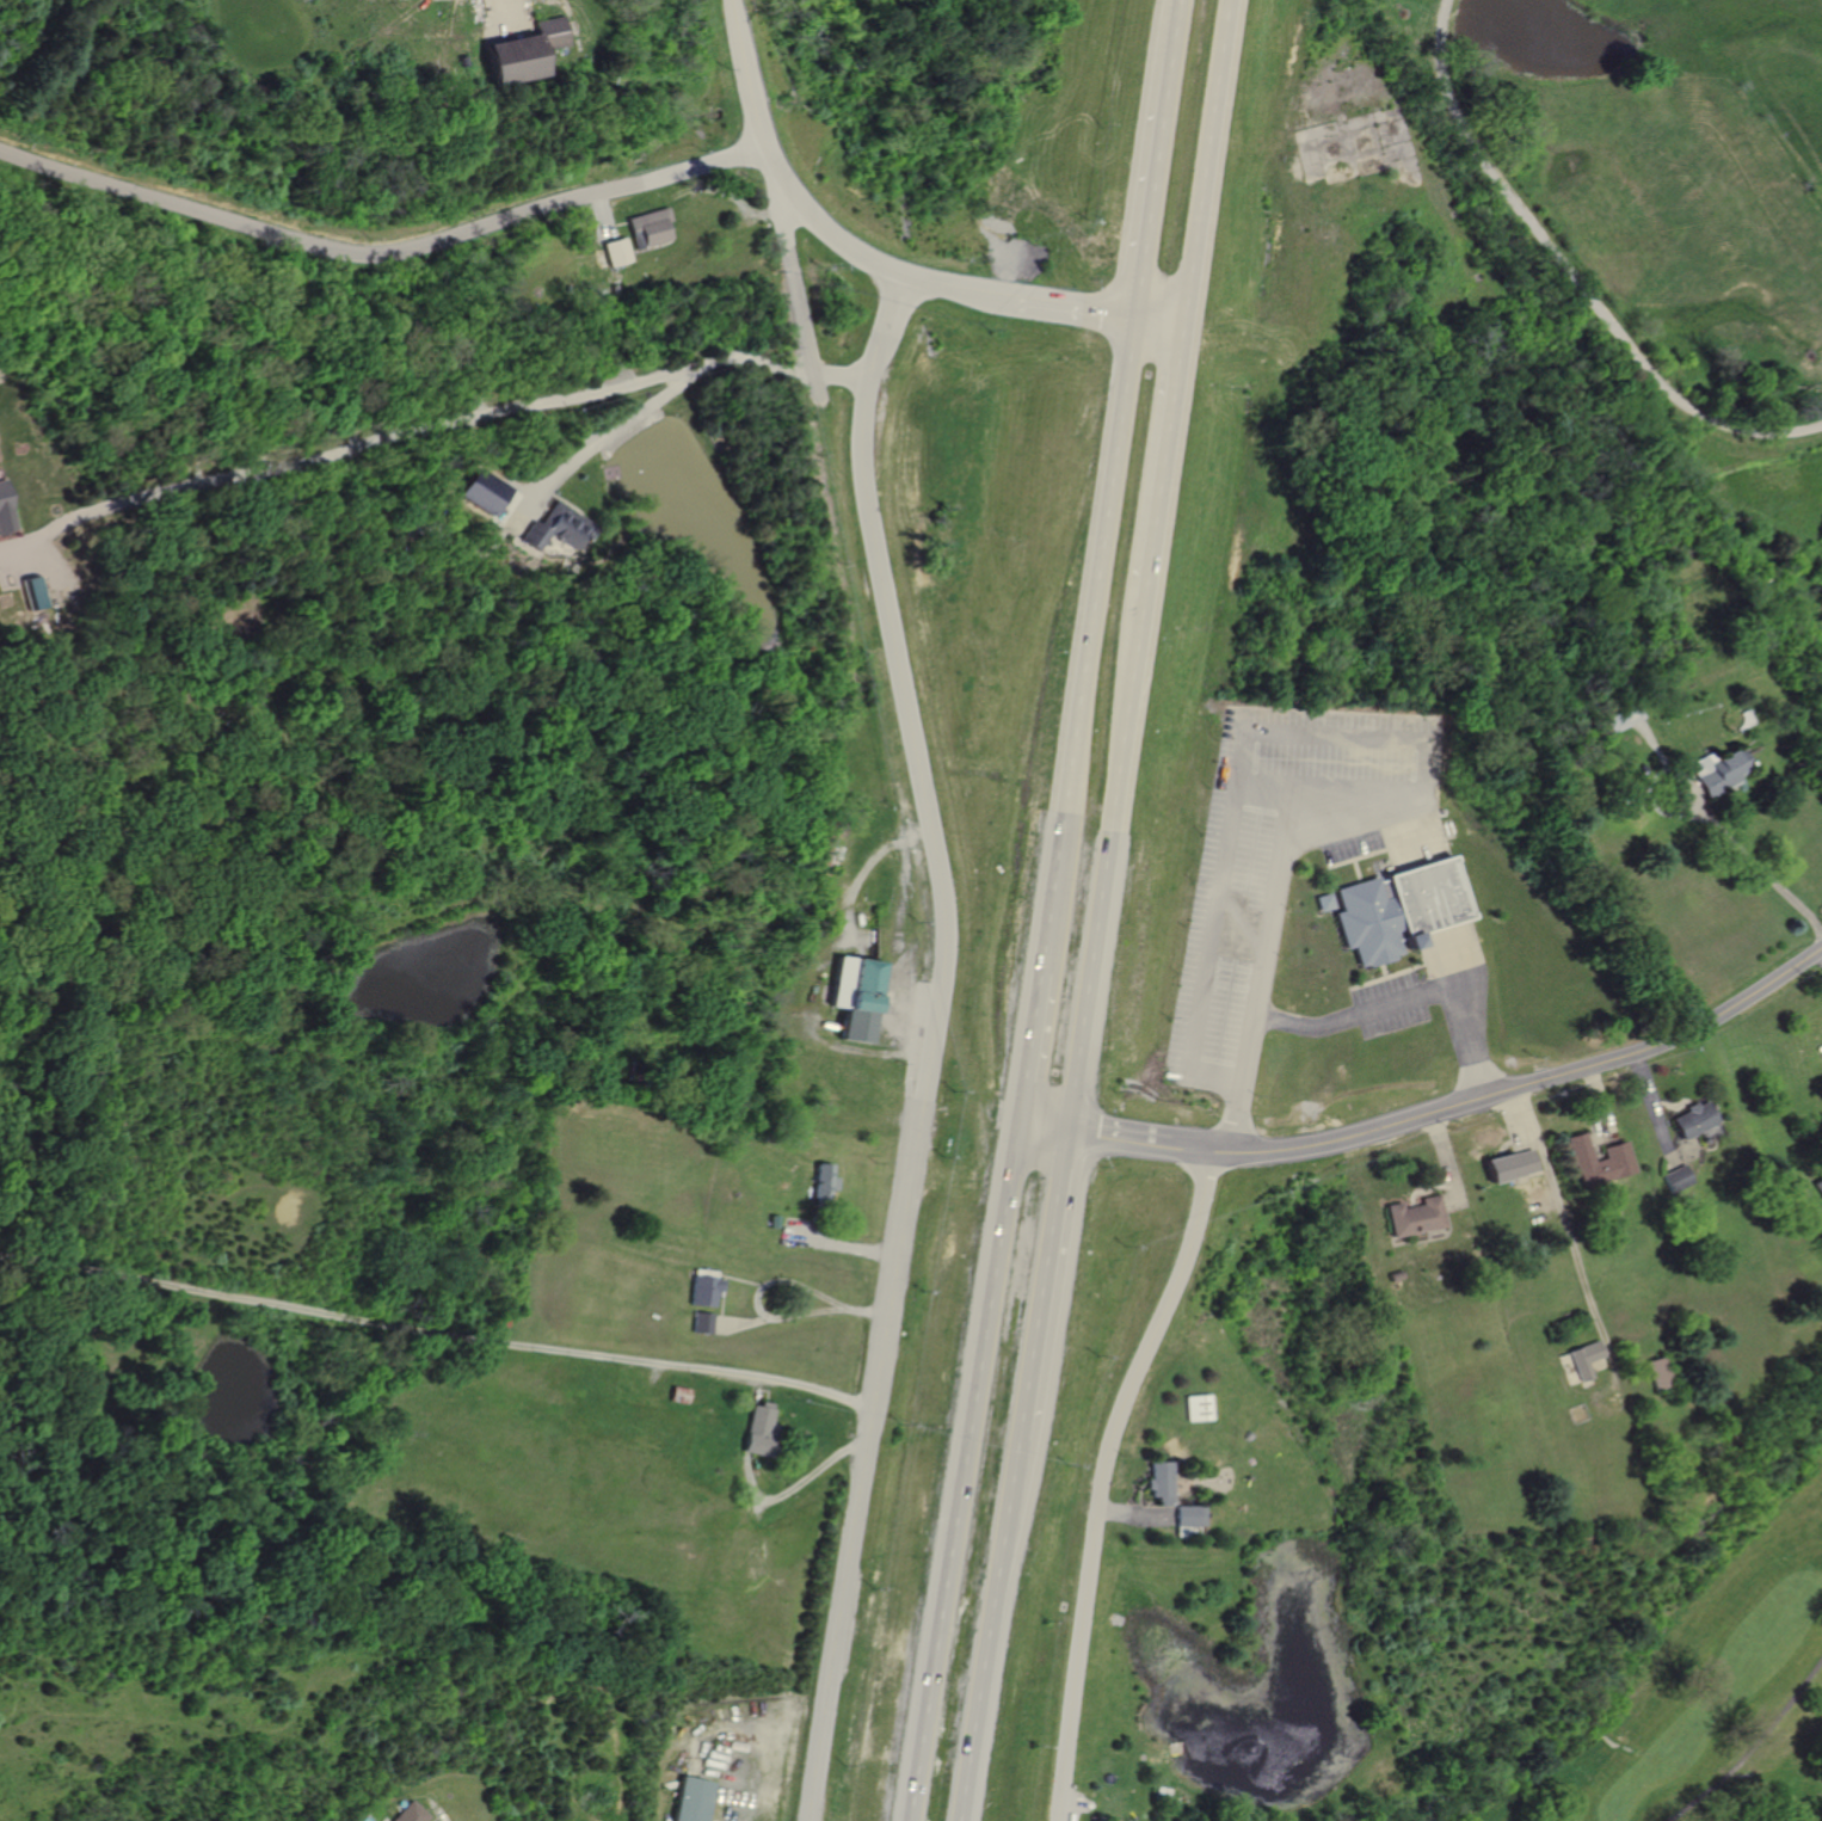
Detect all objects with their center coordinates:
road: (1165, 30)
building: (519, 51)
road: (750, 76)
road: (1196, 162)
road: (1141, 189)
building: (618, 252)
road: (382, 258)
road: (868, 260)
road: (1572, 275)
road: (798, 285)
road: (1066, 309)
road: (1146, 321)
road: (839, 379)
road: (421, 427)
road: (608, 438)
road: (1152, 461)
building: (482, 492)
building: (4, 512)
building: (554, 528)
building: (33, 592)
road: (882, 598)
road: (1077, 642)
building: (1617, 722)
road: (1262, 732)
road: (1657, 745)
building: (1719, 770)
road: (1651, 780)
road: (1369, 828)
road: (1421, 835)
road: (1375, 853)
parking lot: (1280, 860)
road: (1098, 861)
road: (1358, 869)
road: (1767, 873)
road: (857, 875)
road: (1346, 882)
building: (1324, 902)
road: (1270, 905)
building: (1397, 909)
road: (1242, 923)
road: (892, 925)
road: (1455, 951)
road: (1430, 962)
road: (1384, 970)
road: (1391, 974)
flagpole: (1422, 976)
building: (852, 997)
parking lot: (1390, 1004)
road: (1348, 1017)
road: (1018, 1042)
road: (1509, 1087)
road: (1600, 1109)
road: (1655, 1109)
road: (1513, 1119)
building: (1694, 1119)
road: (1035, 1122)
road: (1118, 1137)
building: (1615, 1159)
road: (1447, 1162)
building: (1509, 1167)
building: (1678, 1179)
building: (821, 1182)
building: (1818, 1183)
building: (1414, 1217)
road: (1568, 1234)
road: (770, 1278)
road: (1041, 1282)
building: (703, 1292)
building: (701, 1324)
road: (435, 1333)
building: (1581, 1360)
building: (1661, 1372)
road: (876, 1373)
building: (1196, 1405)
building: (757, 1431)
road: (958, 1469)
road: (806, 1474)
road: (1102, 1477)
building: (1158, 1481)
road: (1135, 1515)
building: (1187, 1519)
road: (990, 1629)
park: (1630, 1645)
park: (1716, 1702)
road: (1754, 1747)
building: (694, 1800)
road: (1072, 1801)
building: (413, 1813)

